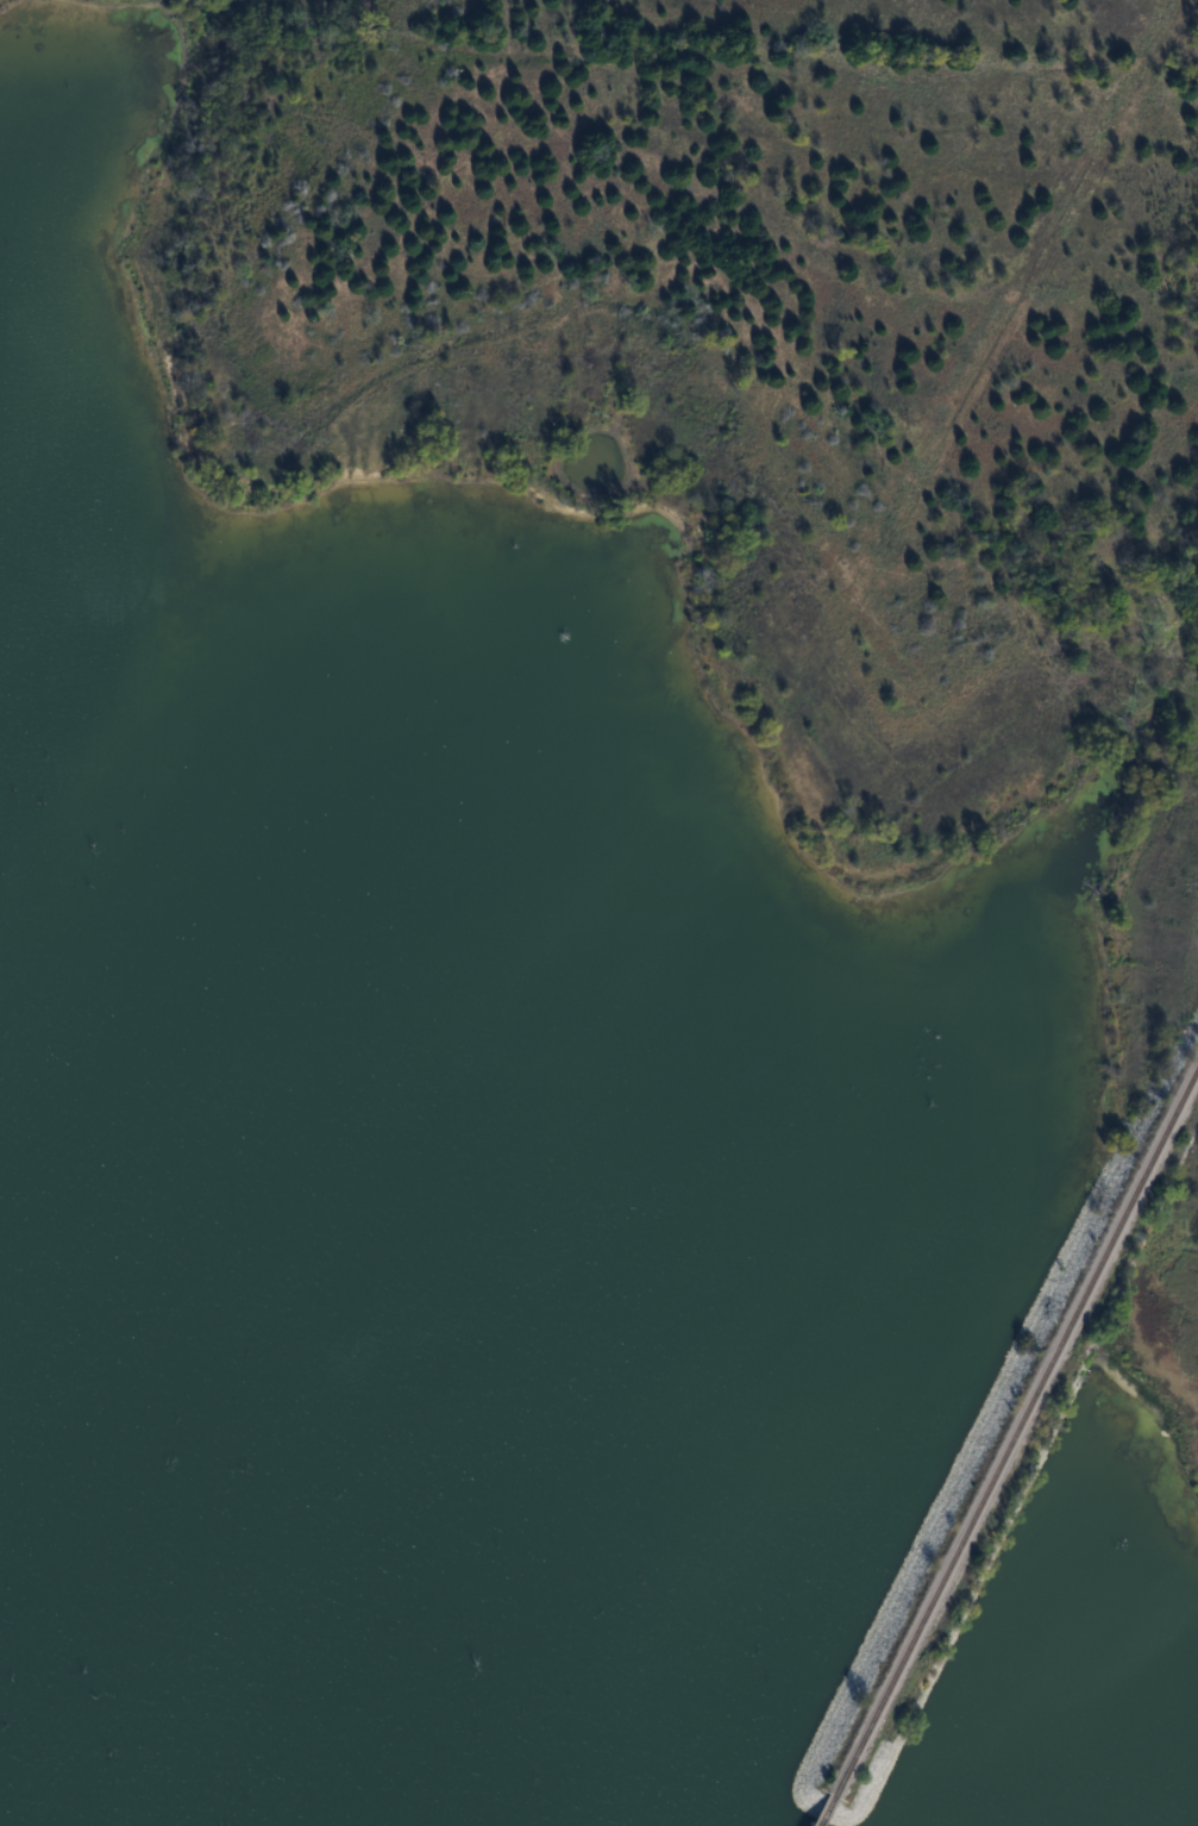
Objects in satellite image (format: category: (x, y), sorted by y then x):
railway: (1014, 1420)
railway: (820, 1807)

